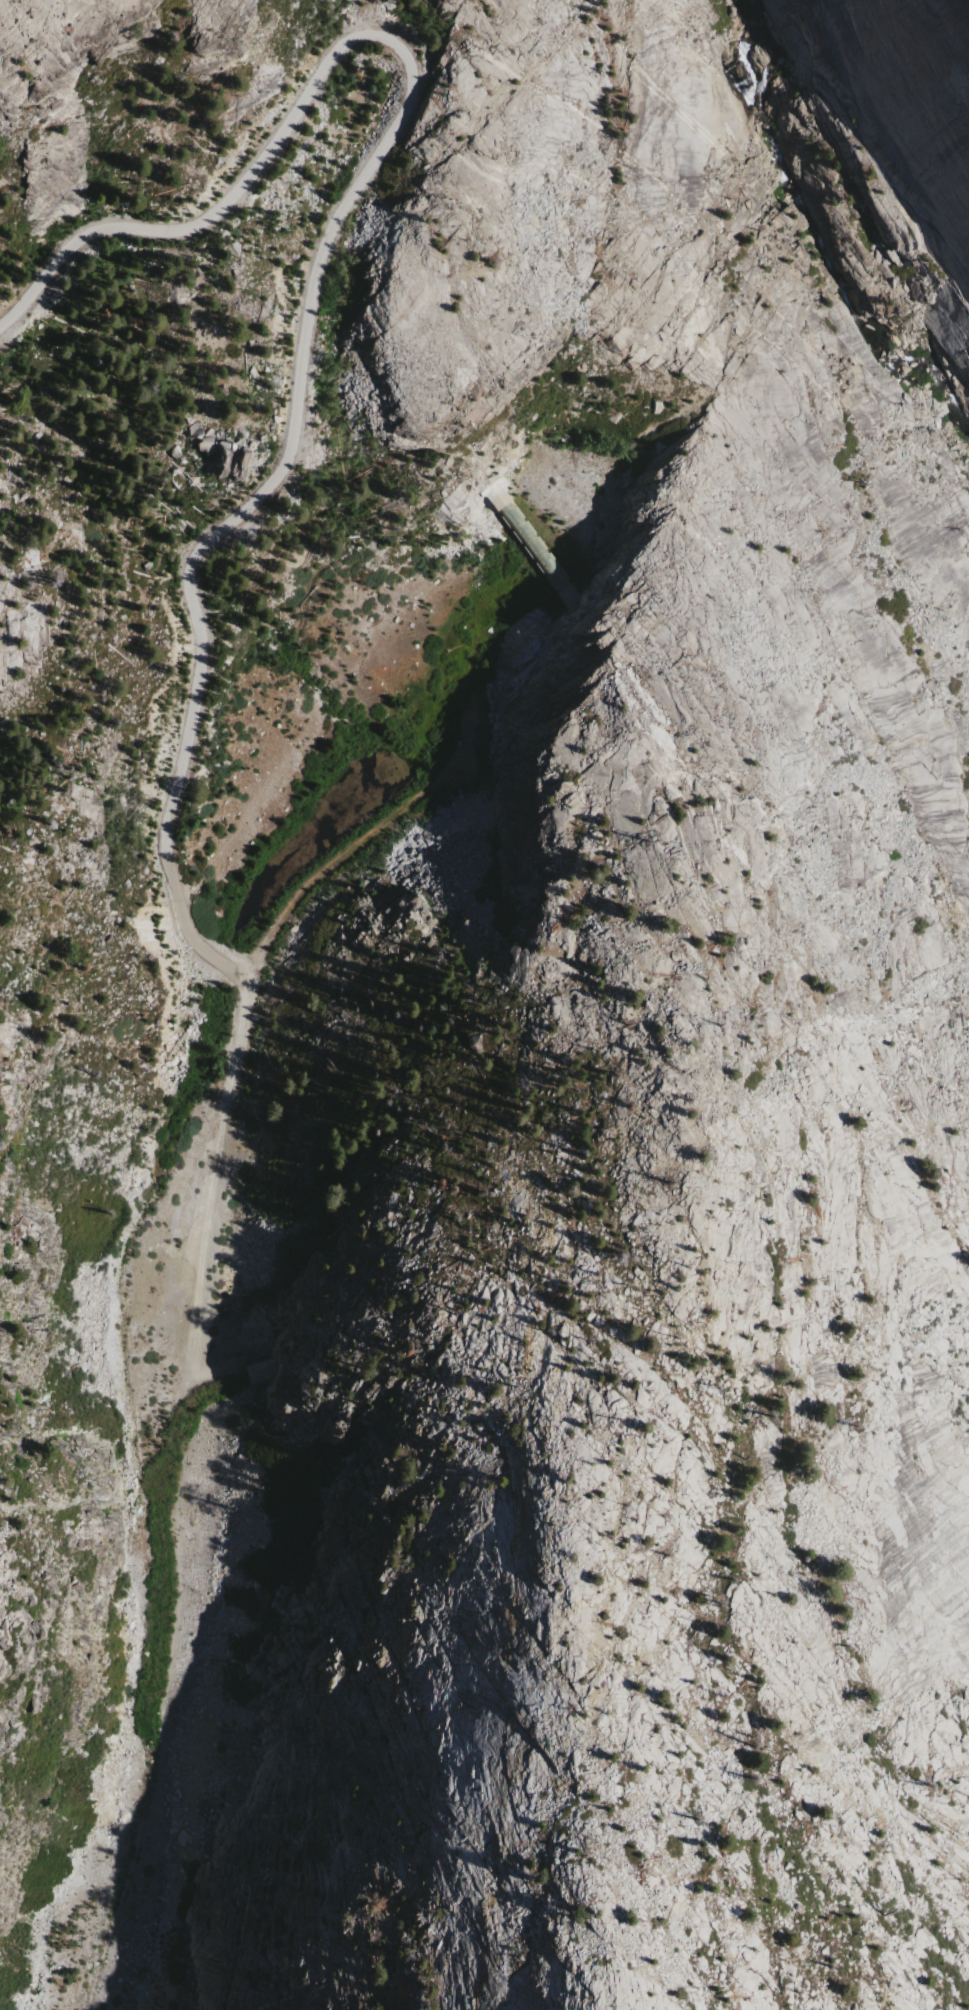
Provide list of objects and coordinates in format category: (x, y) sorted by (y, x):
road: (316, 270)
road: (215, 1200)

